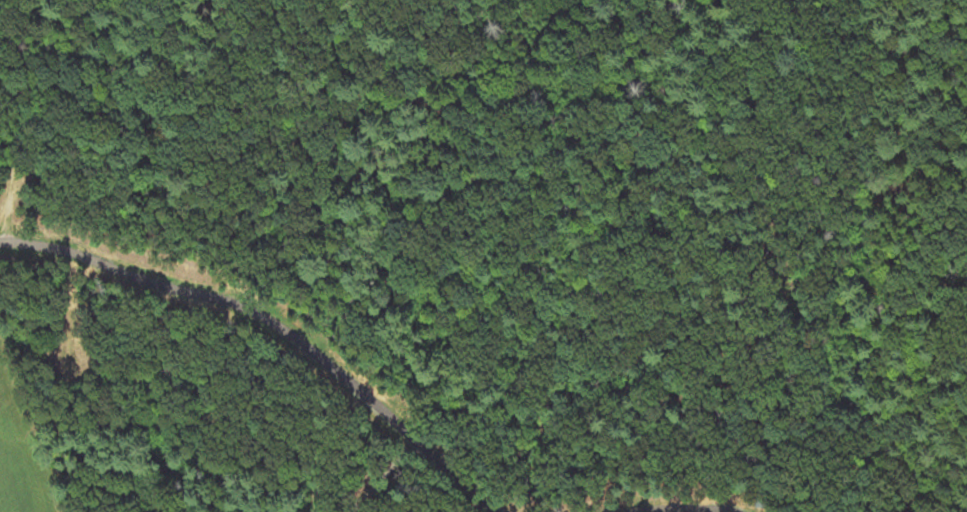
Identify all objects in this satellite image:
road: (276, 323)
road: (962, 504)
road: (679, 509)

